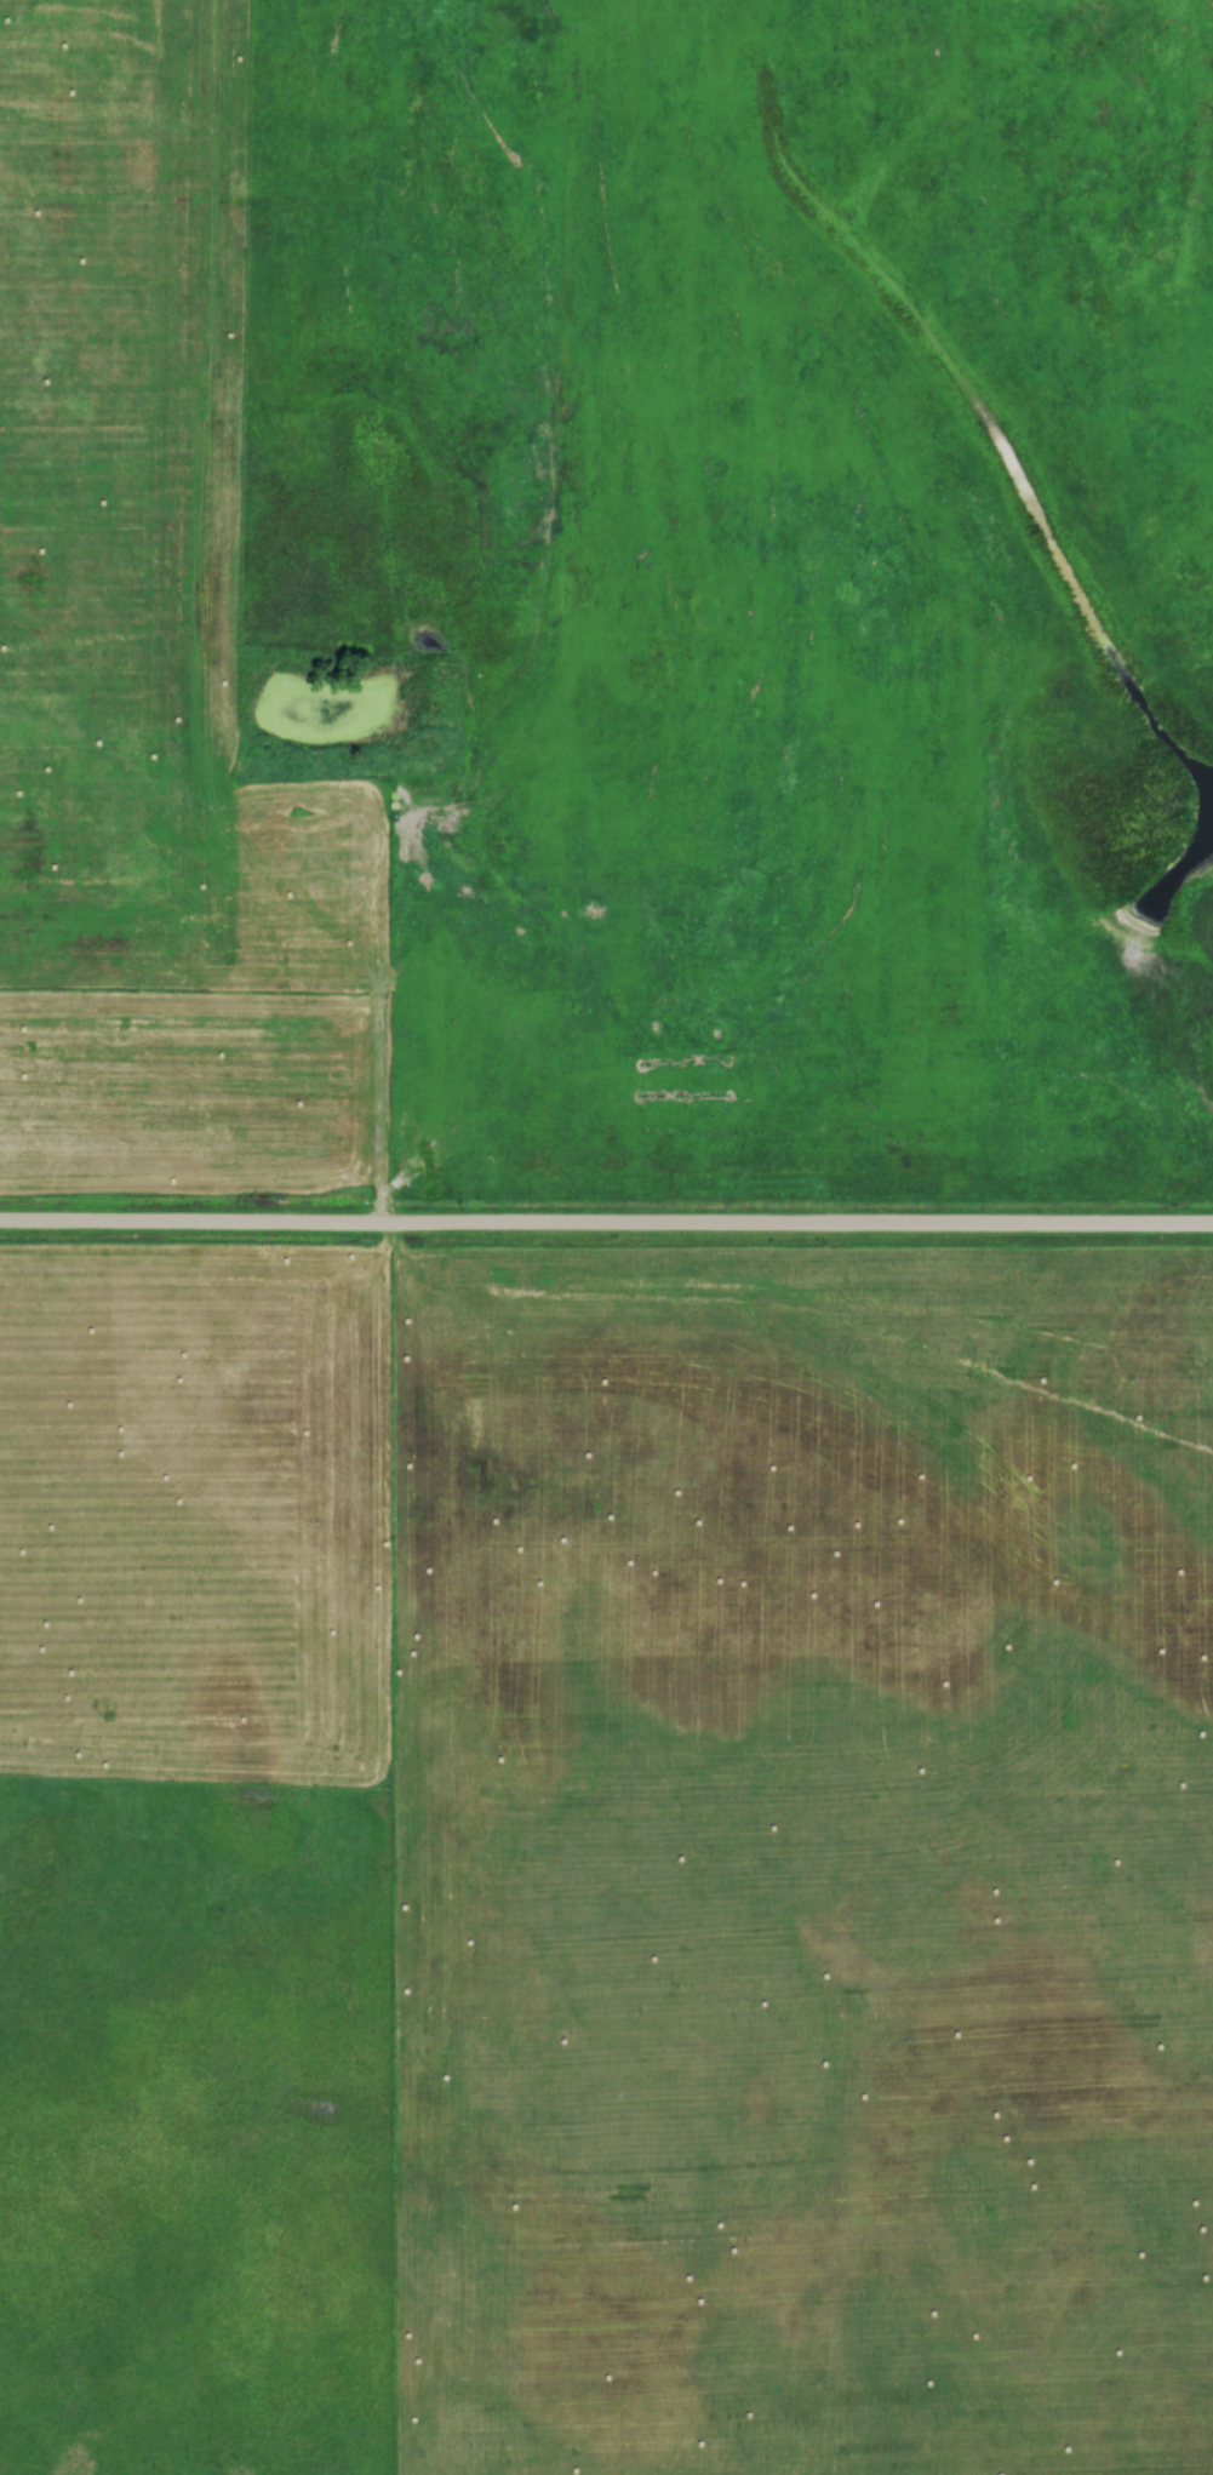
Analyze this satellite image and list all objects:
road: (606, 1230)

